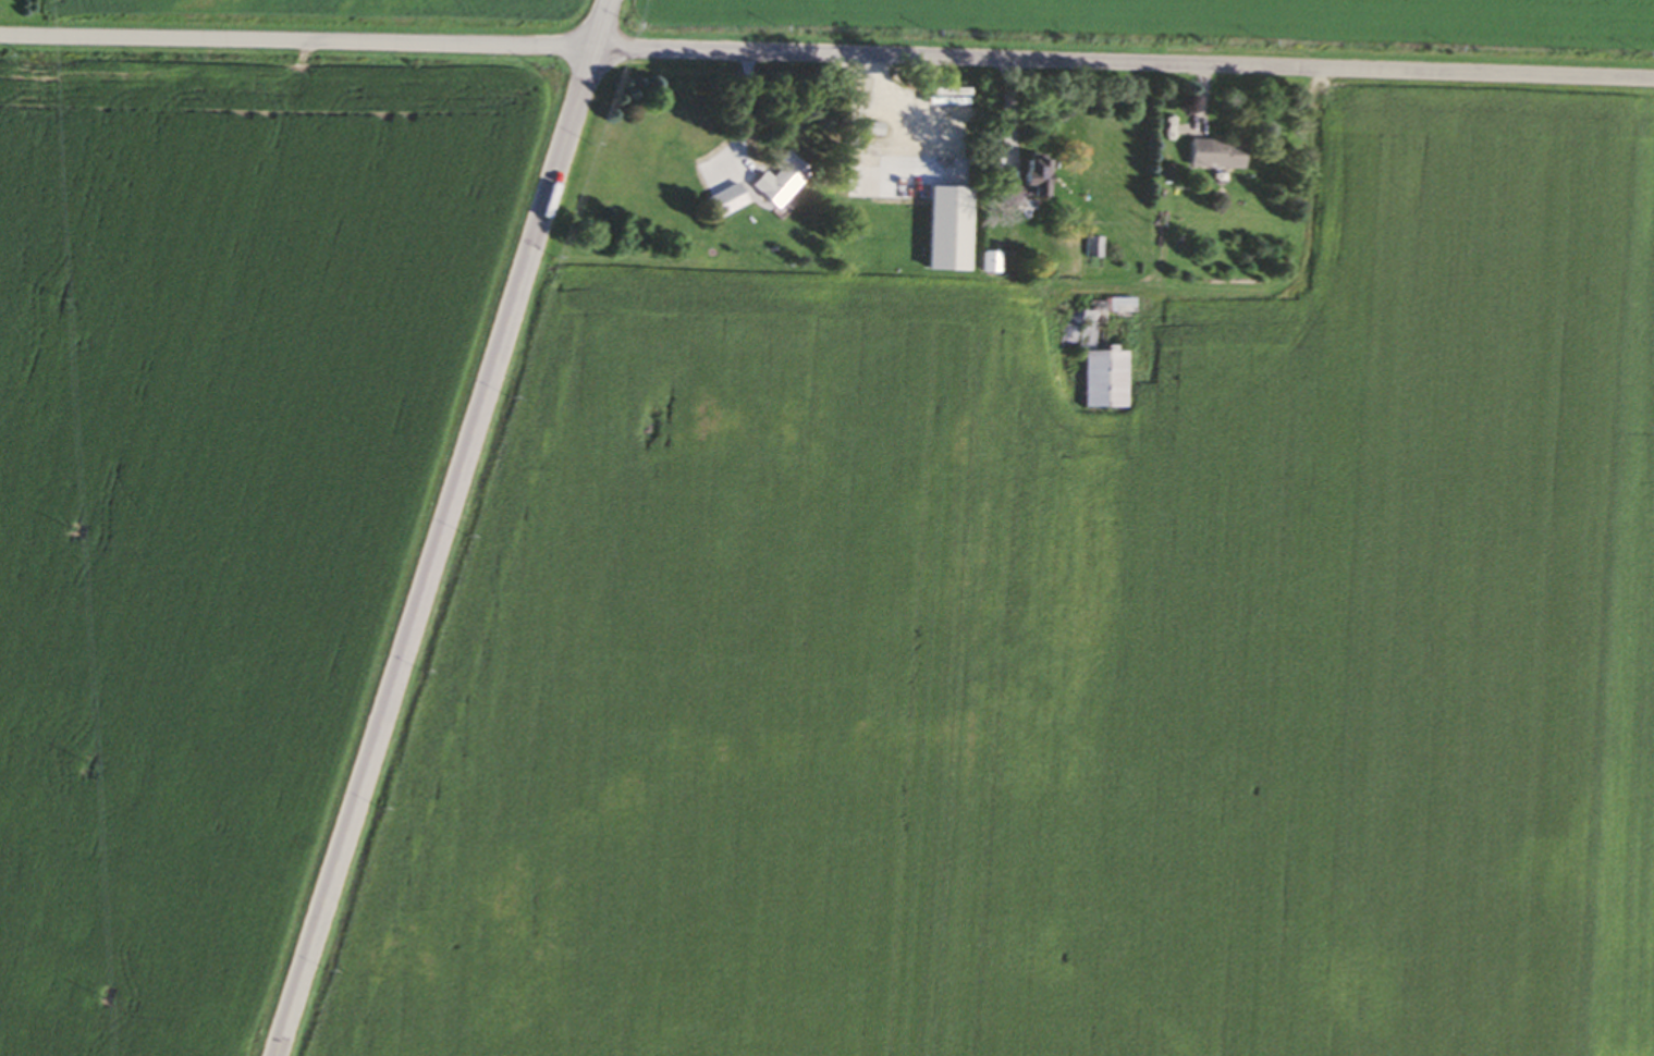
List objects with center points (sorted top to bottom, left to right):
road: (826, 53)
building: (1210, 154)
building: (772, 179)
building: (1021, 181)
building: (720, 199)
building: (1088, 247)
road: (1278, 294)
building: (1091, 364)
road: (443, 528)

